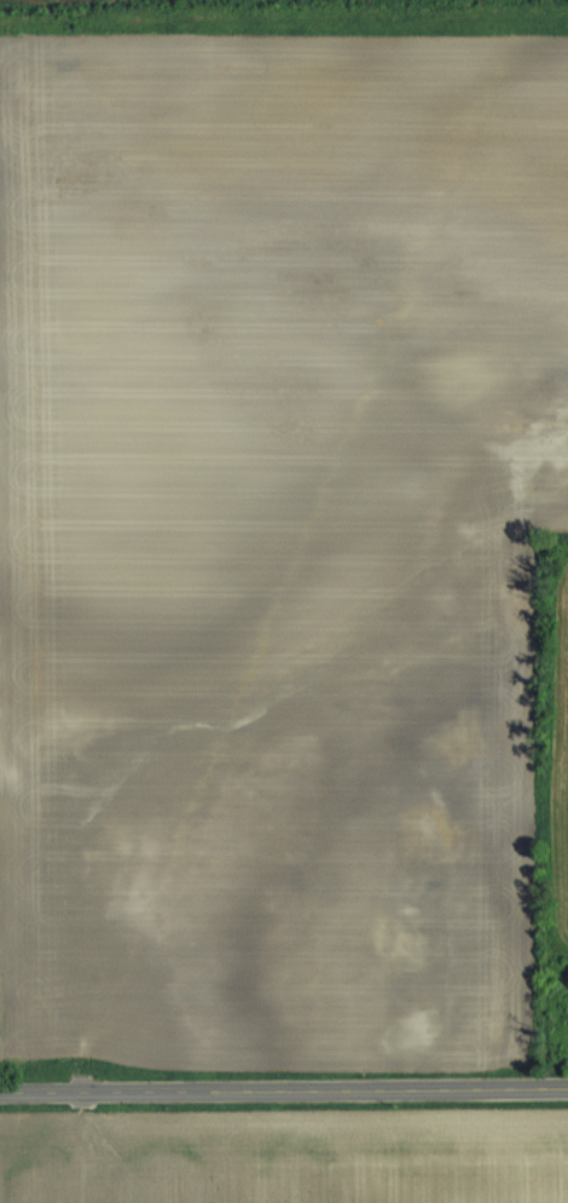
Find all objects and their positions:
crop: (271, 534)
building: (436, 828)
road: (284, 1090)
crop: (289, 1164)

